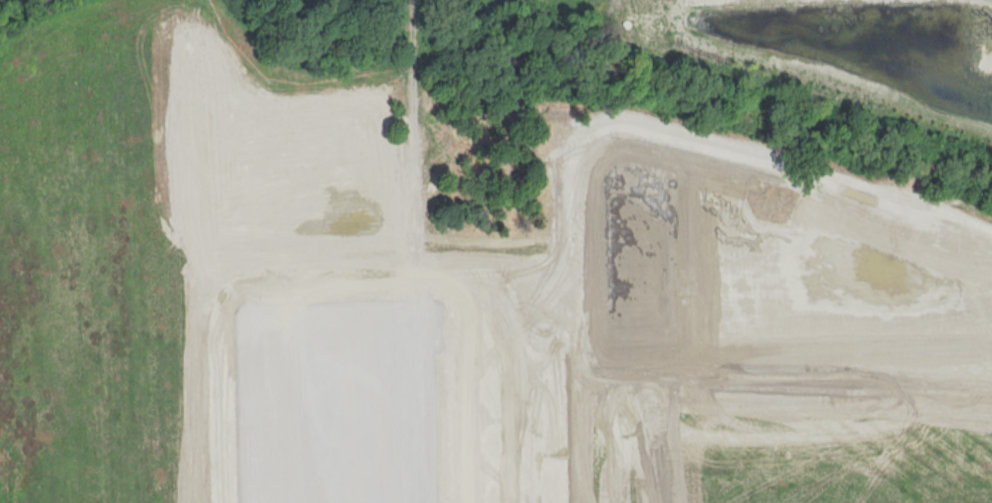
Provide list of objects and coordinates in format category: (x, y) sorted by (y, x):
crop: (152, 228)
building: (337, 402)

